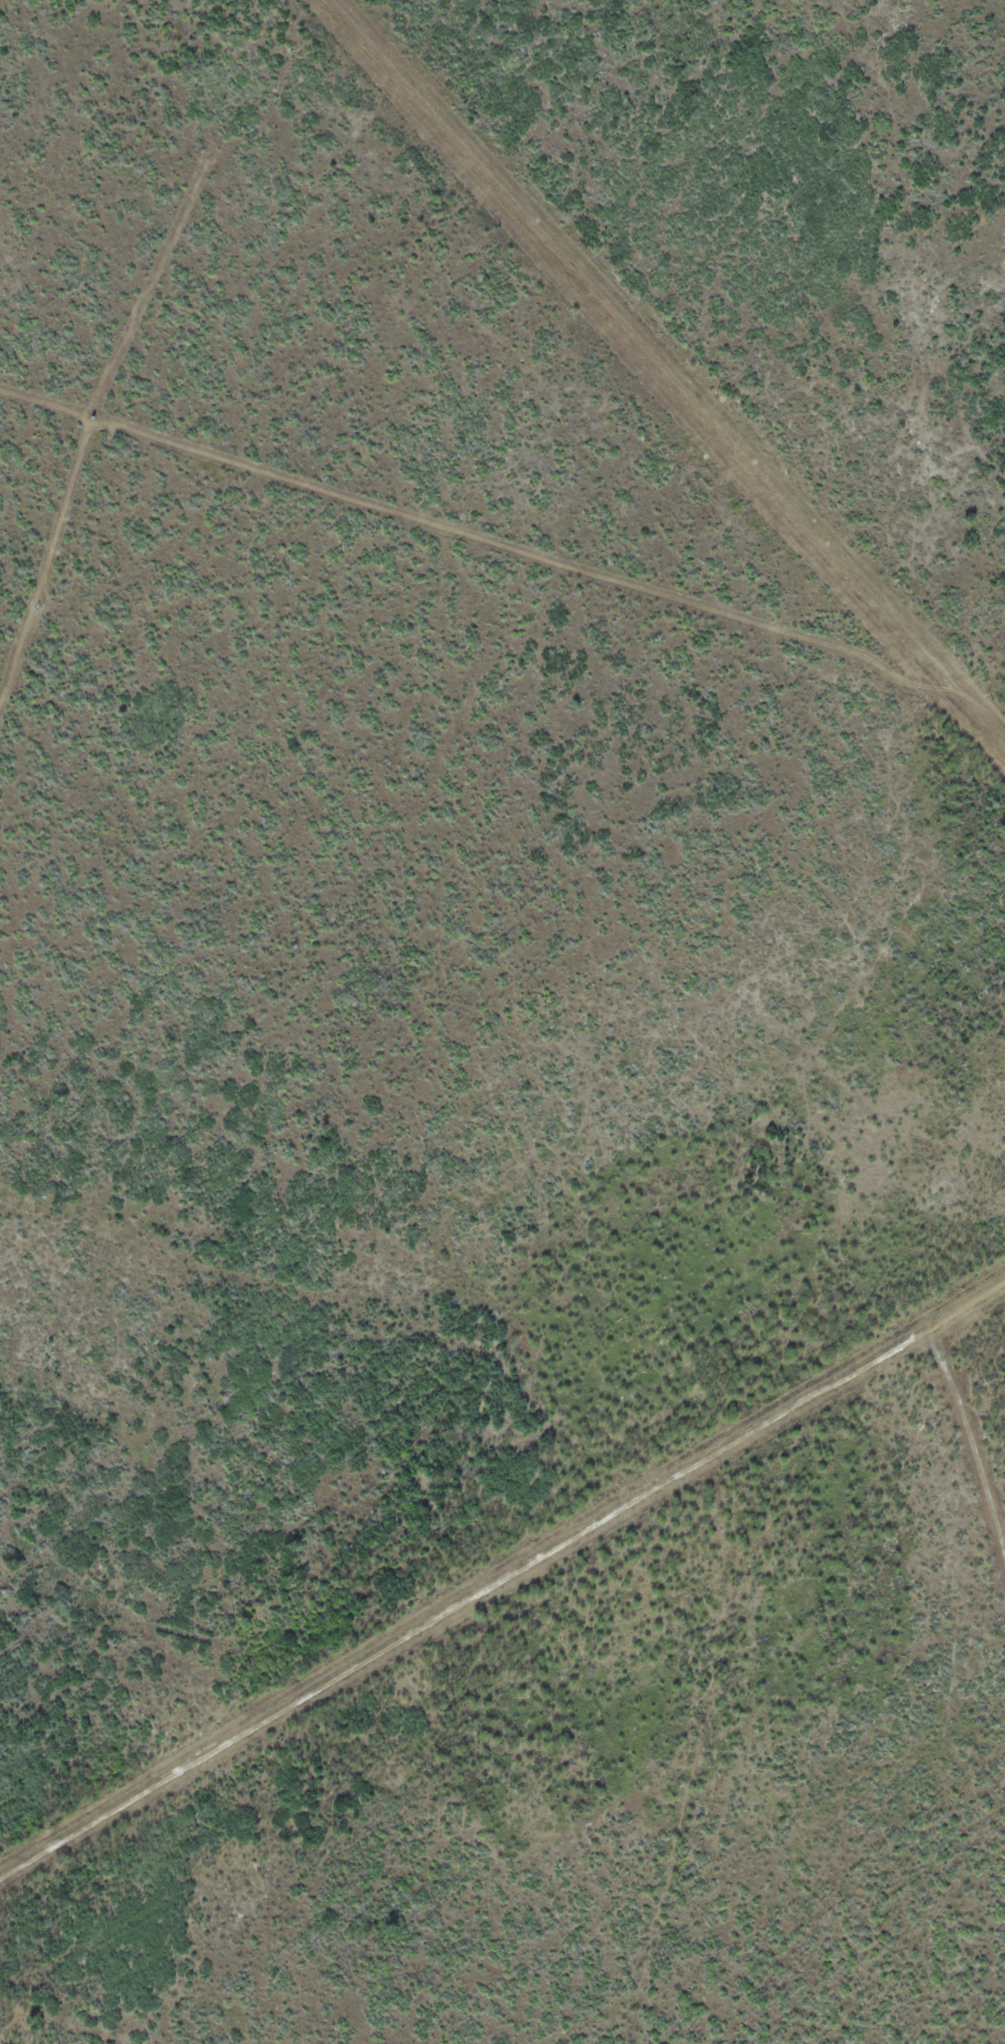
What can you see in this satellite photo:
road: (502, 1584)

